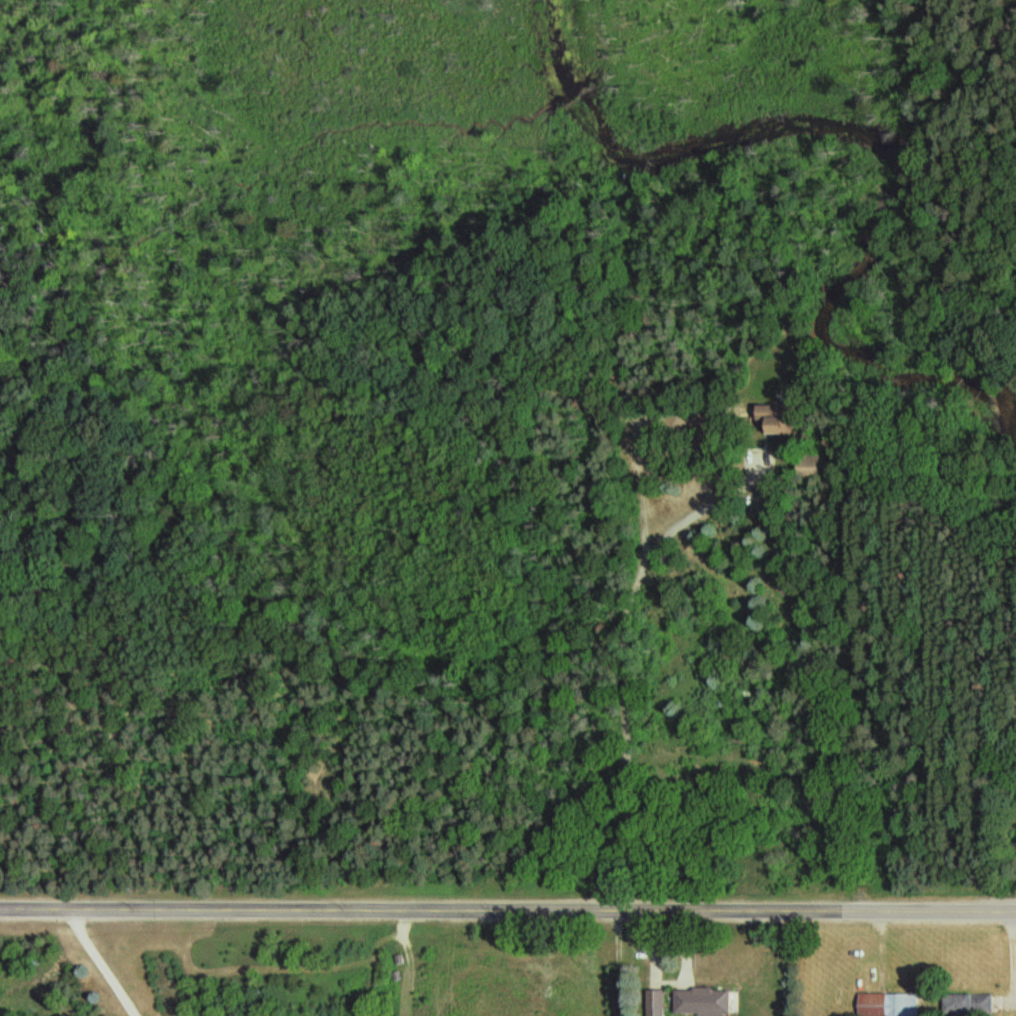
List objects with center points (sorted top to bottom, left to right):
building: (776, 420)
road: (615, 656)
road: (508, 909)
road: (89, 963)
building: (698, 1002)
building: (652, 1003)
building: (887, 1004)
building: (964, 1004)

